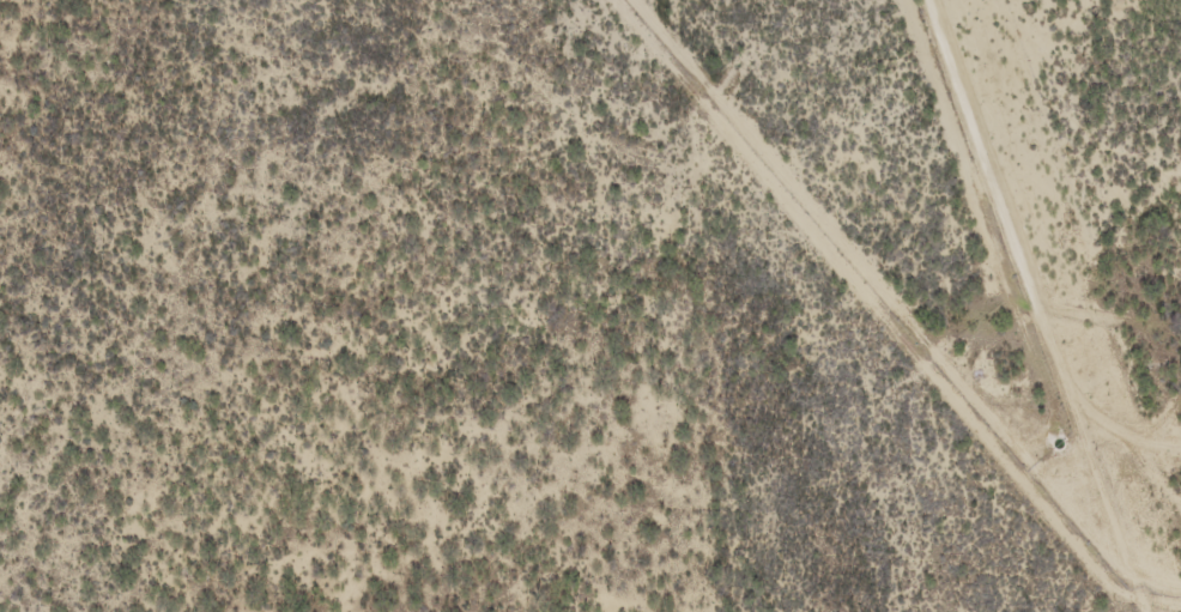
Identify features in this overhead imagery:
road: (1041, 305)
road: (898, 308)

